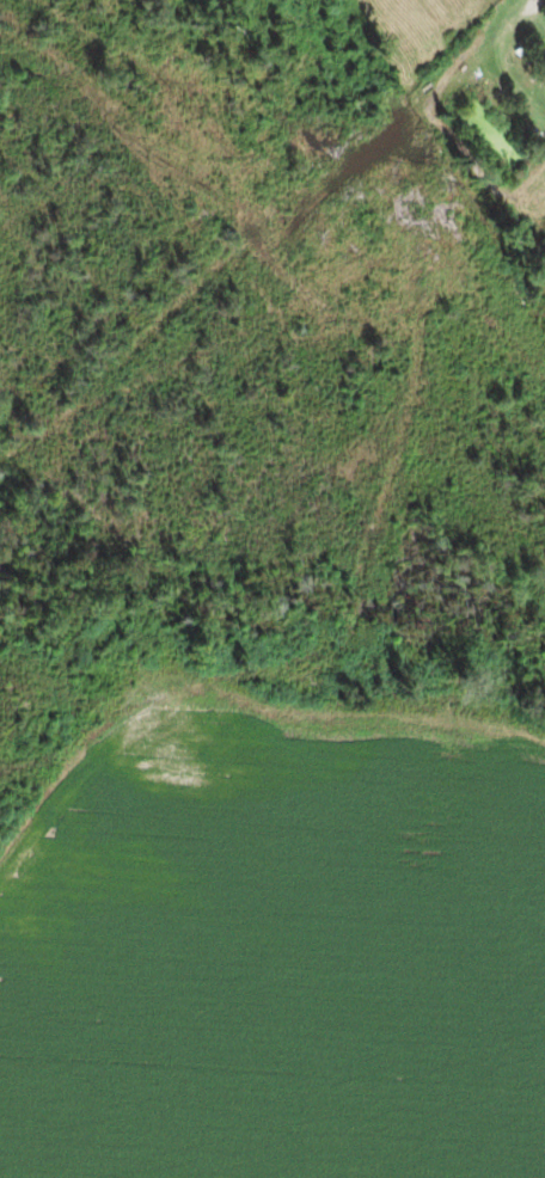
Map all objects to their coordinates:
road: (290, 818)

